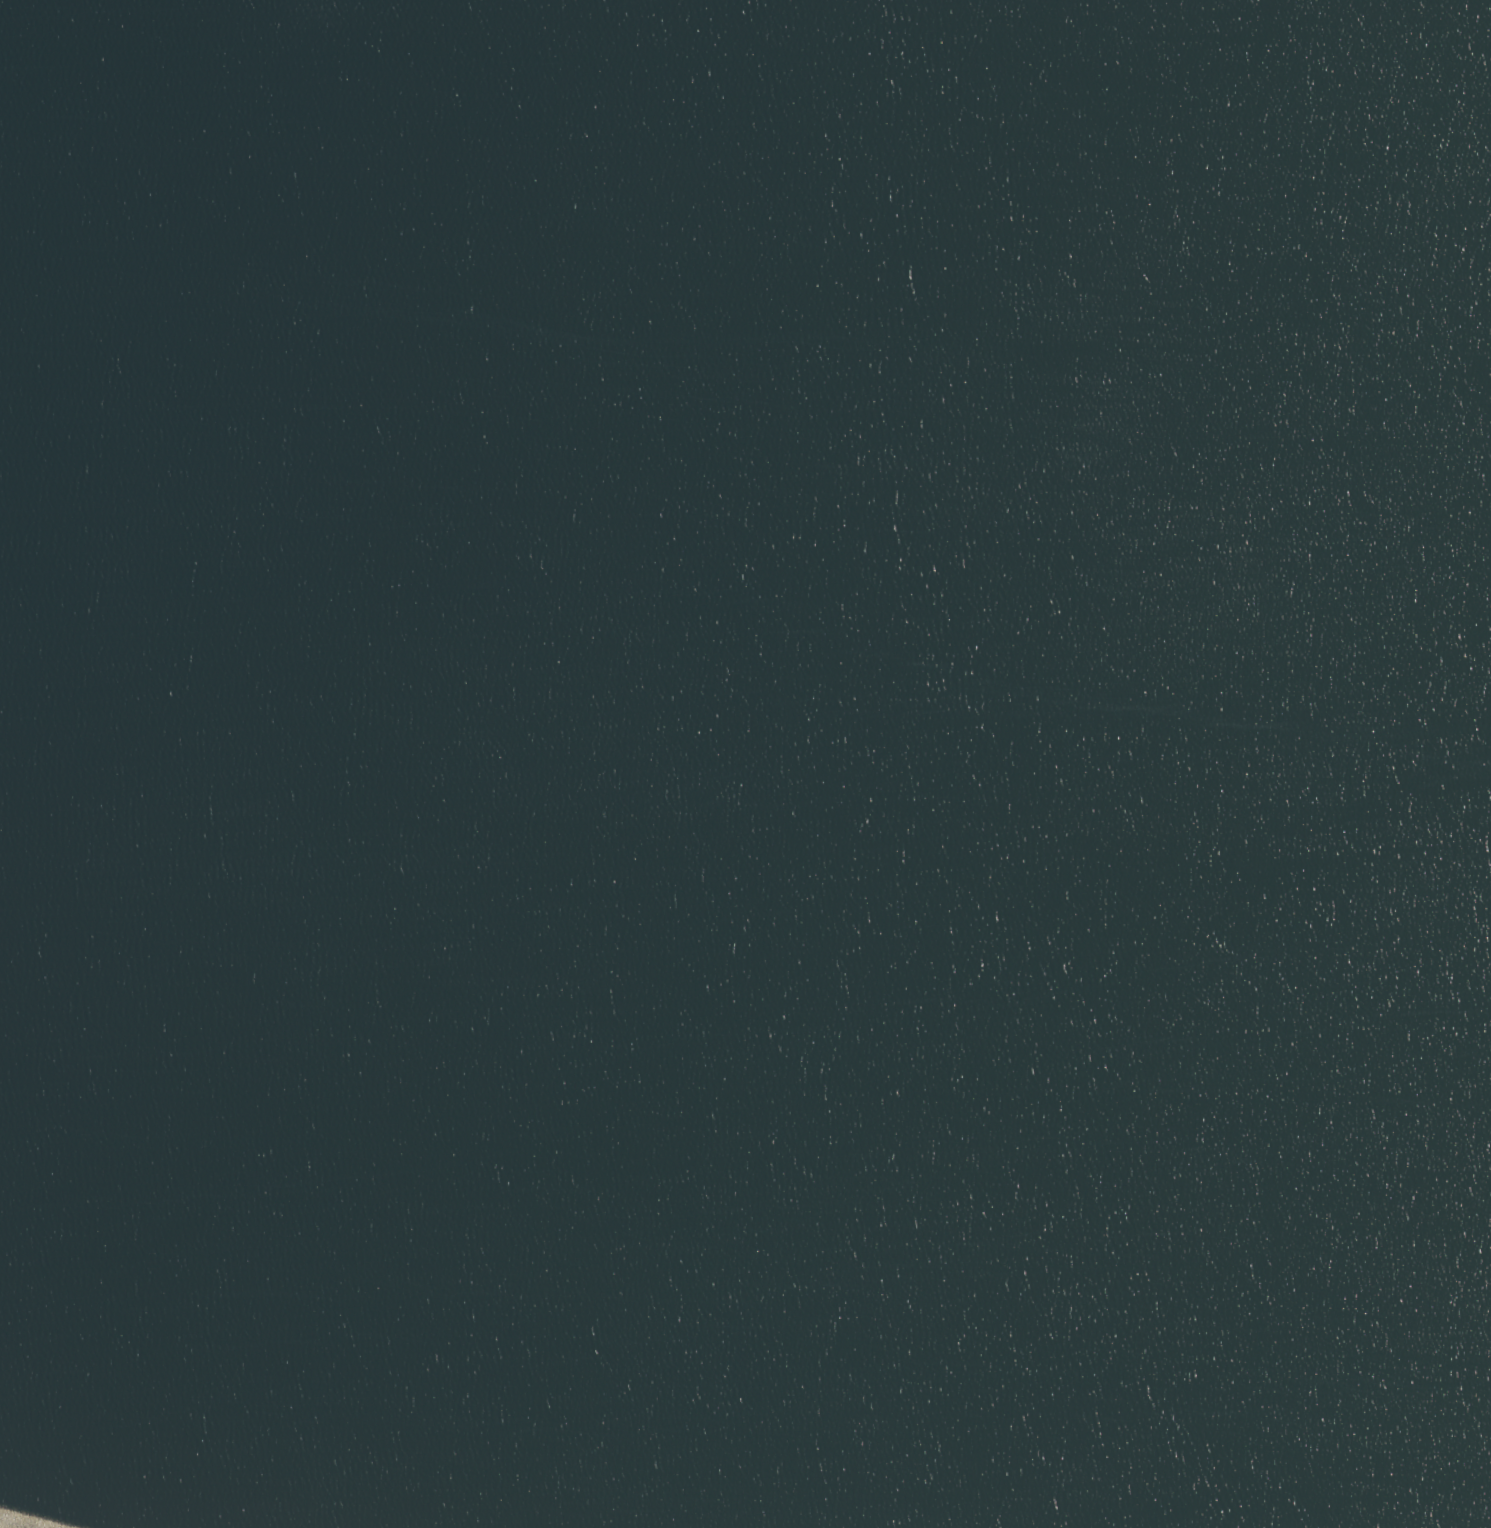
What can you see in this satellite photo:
power plant: (28, 1520)

